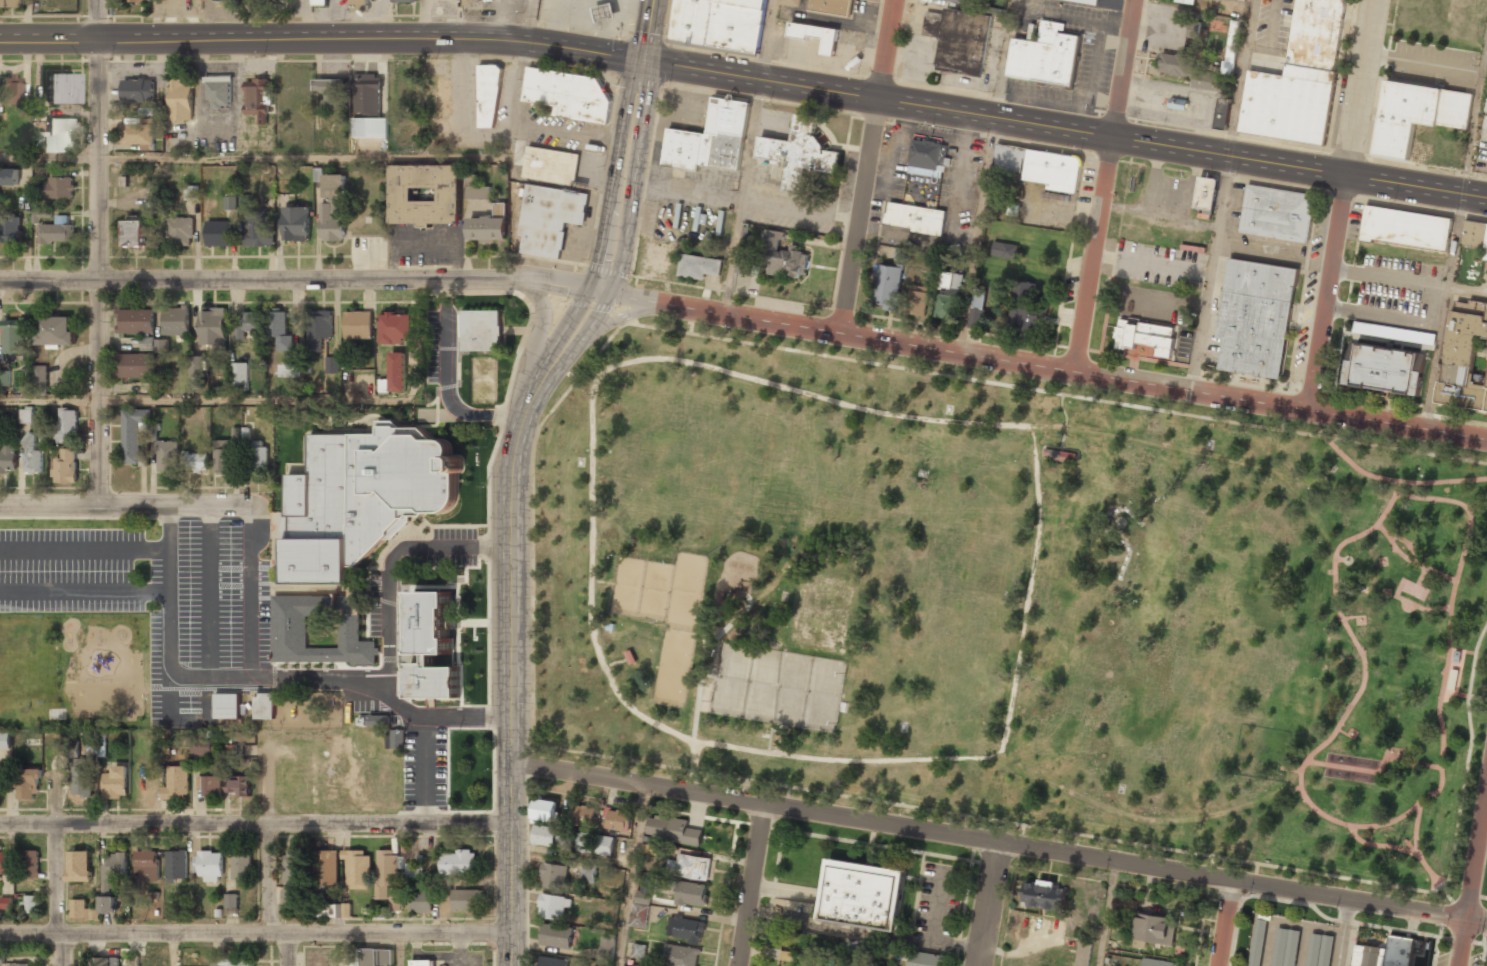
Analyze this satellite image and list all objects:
building: (219, 0)
building: (404, 1)
building: (961, 1)
building: (1086, 1)
building: (1187, 1)
building: (140, 2)
building: (790, 2)
building: (13, 3)
building: (319, 3)
building: (471, 3)
building: (359, 5)
building: (830, 6)
building: (605, 12)
building: (720, 23)
building: (1194, 29)
building: (816, 35)
building: (959, 40)
building: (1231, 47)
building: (1045, 54)
traffic signals: (642, 61)
building: (1187, 70)
road: (746, 77)
building: (1299, 79)
building: (60, 90)
building: (10, 91)
building: (137, 91)
building: (218, 93)
building: (331, 94)
building: (568, 94)
building: (367, 95)
building: (489, 96)
building: (258, 97)
building: (439, 97)
building: (181, 100)
building: (147, 111)
building: (1222, 113)
building: (1417, 115)
building: (369, 127)
building: (137, 133)
building: (60, 136)
building: (711, 139)
building: (39, 140)
road: (629, 146)
building: (798, 152)
road: (303, 157)
road: (48, 158)
building: (551, 166)
road: (867, 166)
building: (1036, 166)
building: (924, 170)
building: (9, 177)
road: (1105, 185)
building: (334, 186)
building: (59, 188)
building: (192, 192)
building: (1206, 192)
building: (482, 193)
building: (424, 195)
building: (244, 200)
building: (230, 203)
road: (1341, 205)
building: (1277, 213)
building: (41, 215)
building: (914, 217)
building: (549, 219)
building: (331, 222)
building: (296, 223)
building: (488, 227)
building: (1406, 228)
building: (258, 229)
building: (11, 230)
building: (179, 231)
building: (56, 233)
building: (134, 233)
building: (217, 234)
building: (1475, 235)
building: (1004, 250)
road: (98, 252)
building: (902, 254)
building: (784, 256)
building: (745, 262)
building: (698, 266)
road: (299, 279)
building: (950, 280)
building: (888, 285)
traffic signals: (598, 291)
building: (917, 300)
building: (945, 306)
building: (976, 308)
building: (1026, 308)
building: (1254, 317)
road: (615, 319)
building: (134, 321)
building: (176, 321)
building: (246, 323)
building: (357, 325)
building: (213, 327)
building: (318, 328)
building: (397, 328)
building: (279, 330)
building: (480, 330)
building: (55, 331)
road: (540, 331)
building: (1393, 333)
building: (13, 337)
building: (1144, 339)
building: (154, 344)
road: (815, 347)
road: (859, 354)
building: (1465, 357)
building: (332, 365)
road: (1042, 365)
building: (132, 366)
building: (1384, 369)
building: (292, 370)
building: (199, 372)
building: (397, 373)
building: (239, 376)
building: (4, 378)
building: (40, 379)
road: (1049, 386)
road: (1059, 393)
road: (1092, 393)
road: (49, 399)
road: (252, 399)
building: (25, 415)
road: (1007, 423)
road: (1283, 424)
building: (68, 425)
building: (132, 434)
building: (49, 437)
road: (1327, 437)
building: (31, 455)
building: (166, 456)
road: (1219, 456)
building: (8, 457)
building: (258, 458)
building: (223, 460)
building: (196, 463)
building: (64, 466)
road: (1396, 484)
building: (361, 499)
road: (122, 505)
road: (1372, 527)
road: (1407, 544)
road: (1410, 560)
parking lot: (156, 595)
road: (1400, 597)
park: (1011, 605)
park: (664, 612)
road: (510, 617)
building: (290, 625)
road: (1348, 628)
building: (432, 647)
road: (1463, 651)
building: (630, 655)
road: (703, 657)
park: (75, 671)
park: (778, 685)
road: (1464, 694)
building: (226, 706)
building: (264, 706)
road: (630, 706)
building: (378, 721)
building: (395, 740)
building: (5, 741)
building: (102, 744)
building: (202, 748)
road: (1442, 755)
road: (1381, 772)
building: (82, 781)
building: (27, 782)
building: (116, 783)
building: (176, 784)
building: (210, 786)
building: (239, 787)
building: (545, 810)
building: (583, 815)
building: (617, 820)
road: (1151, 822)
road: (1389, 822)
road: (255, 824)
building: (673, 829)
building: (544, 836)
road: (1120, 840)
road: (999, 841)
building: (586, 842)
road: (1475, 856)
building: (458, 863)
building: (3, 864)
building: (30, 864)
building: (176, 865)
building: (78, 866)
building: (210, 866)
building: (147, 867)
building: (241, 867)
building: (690, 867)
building: (113, 869)
building: (327, 869)
building: (358, 869)
building: (414, 869)
building: (386, 872)
building: (589, 873)
building: (554, 875)
road: (631, 876)
road: (1435, 877)
road: (270, 879)
building: (292, 879)
road: (751, 885)
building: (692, 893)
building: (862, 894)
road: (57, 895)
building: (1044, 895)
building: (398, 898)
building: (465, 901)
building: (5, 902)
building: (231, 902)
building: (421, 902)
road: (985, 903)
building: (1125, 903)
building: (107, 904)
building: (29, 905)
building: (553, 906)
building: (641, 908)
building: (81, 910)
building: (334, 910)
road: (1105, 913)
road: (1220, 922)
building: (1153, 928)
building: (687, 929)
road: (134, 933)
road: (399, 933)
road: (1341, 933)
road: (279, 935)
building: (556, 936)
building: (1258, 942)
road: (1460, 943)
building: (607, 947)
building: (1285, 947)
road: (175, 950)
road: (288, 950)
road: (397, 950)
building: (638, 950)
building: (1319, 950)
building: (1082, 953)
building: (1388, 953)
building: (680, 955)
building: (366, 957)
building: (2, 958)
building: (925, 959)
building: (133, 960)
building: (105, 961)
building: (232, 961)
building: (552, 962)
building: (1157, 962)
building: (421, 963)
building: (20, 965)

